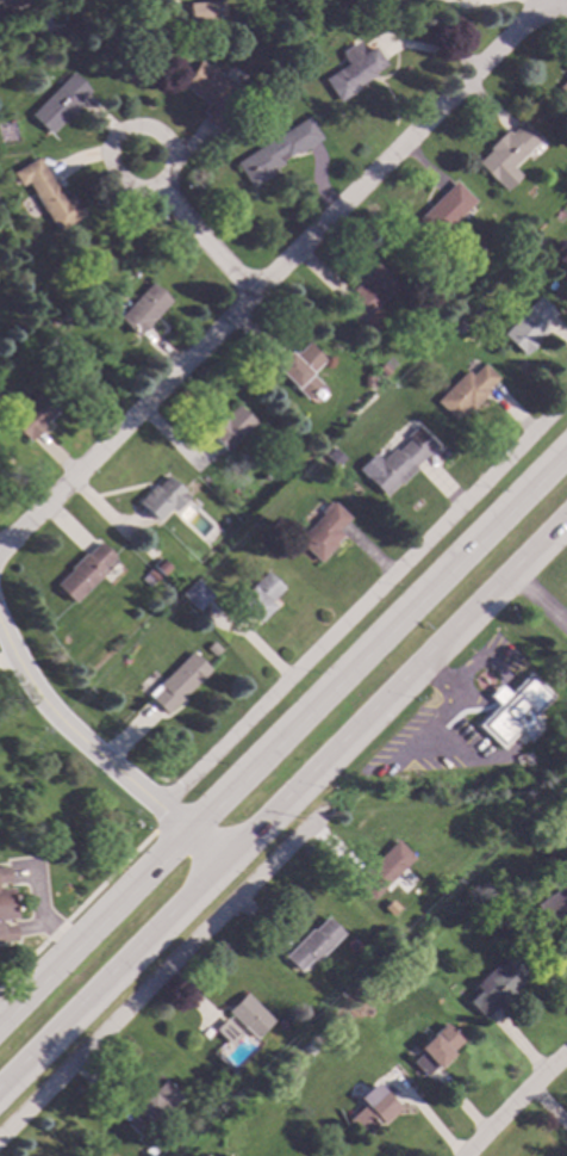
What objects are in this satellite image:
building: (460, 0)
road: (566, 0)
building: (10, 2)
building: (205, 11)
road: (26, 35)
building: (353, 68)
building: (563, 86)
building: (211, 93)
building: (58, 103)
building: (275, 150)
building: (506, 153)
building: (48, 193)
building: (442, 210)
road: (194, 229)
road: (269, 268)
building: (367, 291)
building: (142, 308)
building: (64, 319)
building: (529, 324)
building: (459, 326)
building: (46, 340)
building: (298, 367)
building: (381, 369)
building: (367, 381)
building: (465, 390)
building: (0, 396)
building: (32, 415)
building: (229, 426)
building: (334, 456)
building: (398, 460)
building: (161, 496)
building: (323, 530)
building: (158, 565)
building: (82, 570)
building: (148, 576)
building: (195, 593)
building: (258, 595)
road: (540, 600)
road: (362, 601)
building: (211, 648)
building: (176, 681)
building: (510, 709)
road: (281, 736)
road: (95, 752)
road: (282, 804)
building: (384, 868)
road: (83, 901)
building: (553, 902)
building: (5, 908)
road: (45, 916)
building: (312, 942)
road: (162, 971)
building: (496, 985)
building: (249, 1015)
road: (1, 1022)
building: (226, 1030)
building: (435, 1049)
road: (513, 1102)
building: (150, 1108)
building: (369, 1111)
building: (150, 1149)
building: (204, 1155)

